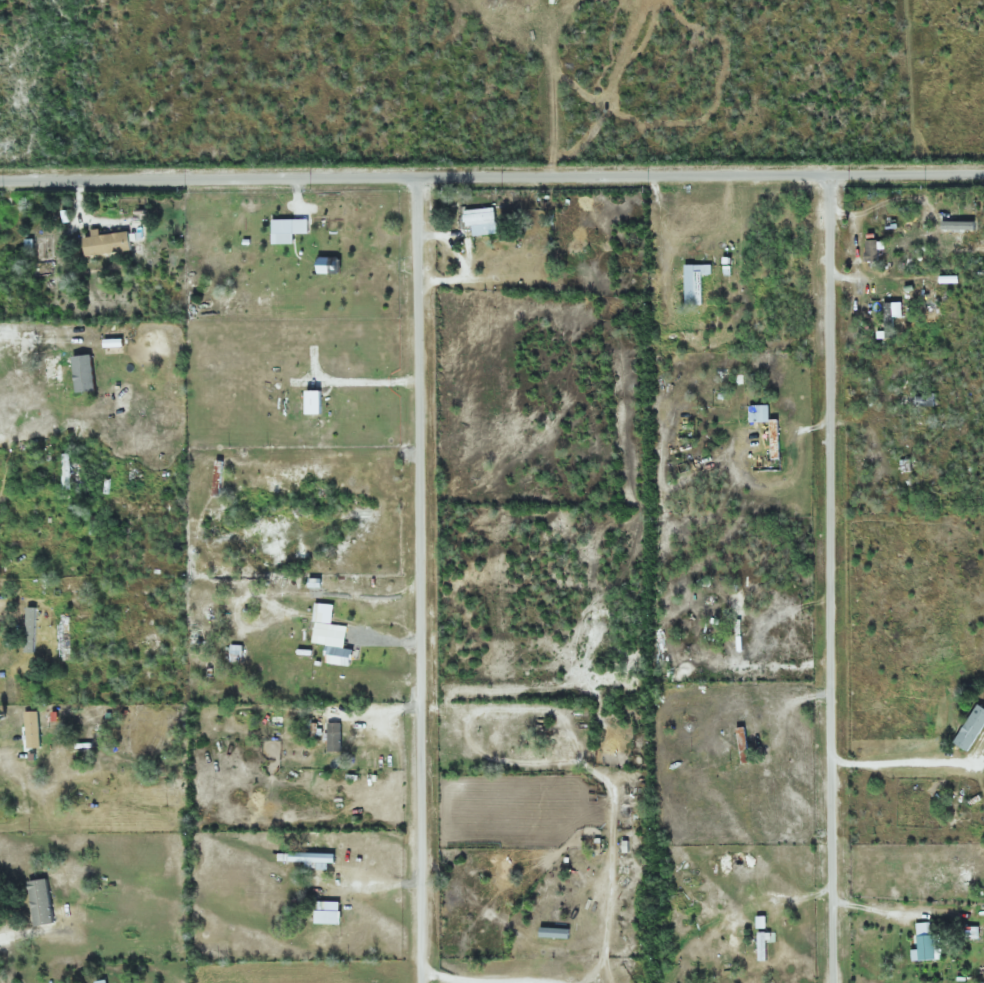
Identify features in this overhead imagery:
building: (495, 1)
building: (523, 1)
road: (492, 177)
building: (481, 221)
building: (890, 223)
building: (110, 242)
building: (697, 282)
building: (888, 320)
building: (55, 369)
building: (775, 440)
building: (905, 466)
building: (66, 471)
road: (828, 579)
road: (416, 580)
building: (65, 636)
building: (339, 646)
building: (237, 656)
building: (33, 728)
building: (972, 729)
building: (335, 736)
building: (93, 811)
building: (311, 857)
building: (102, 981)

